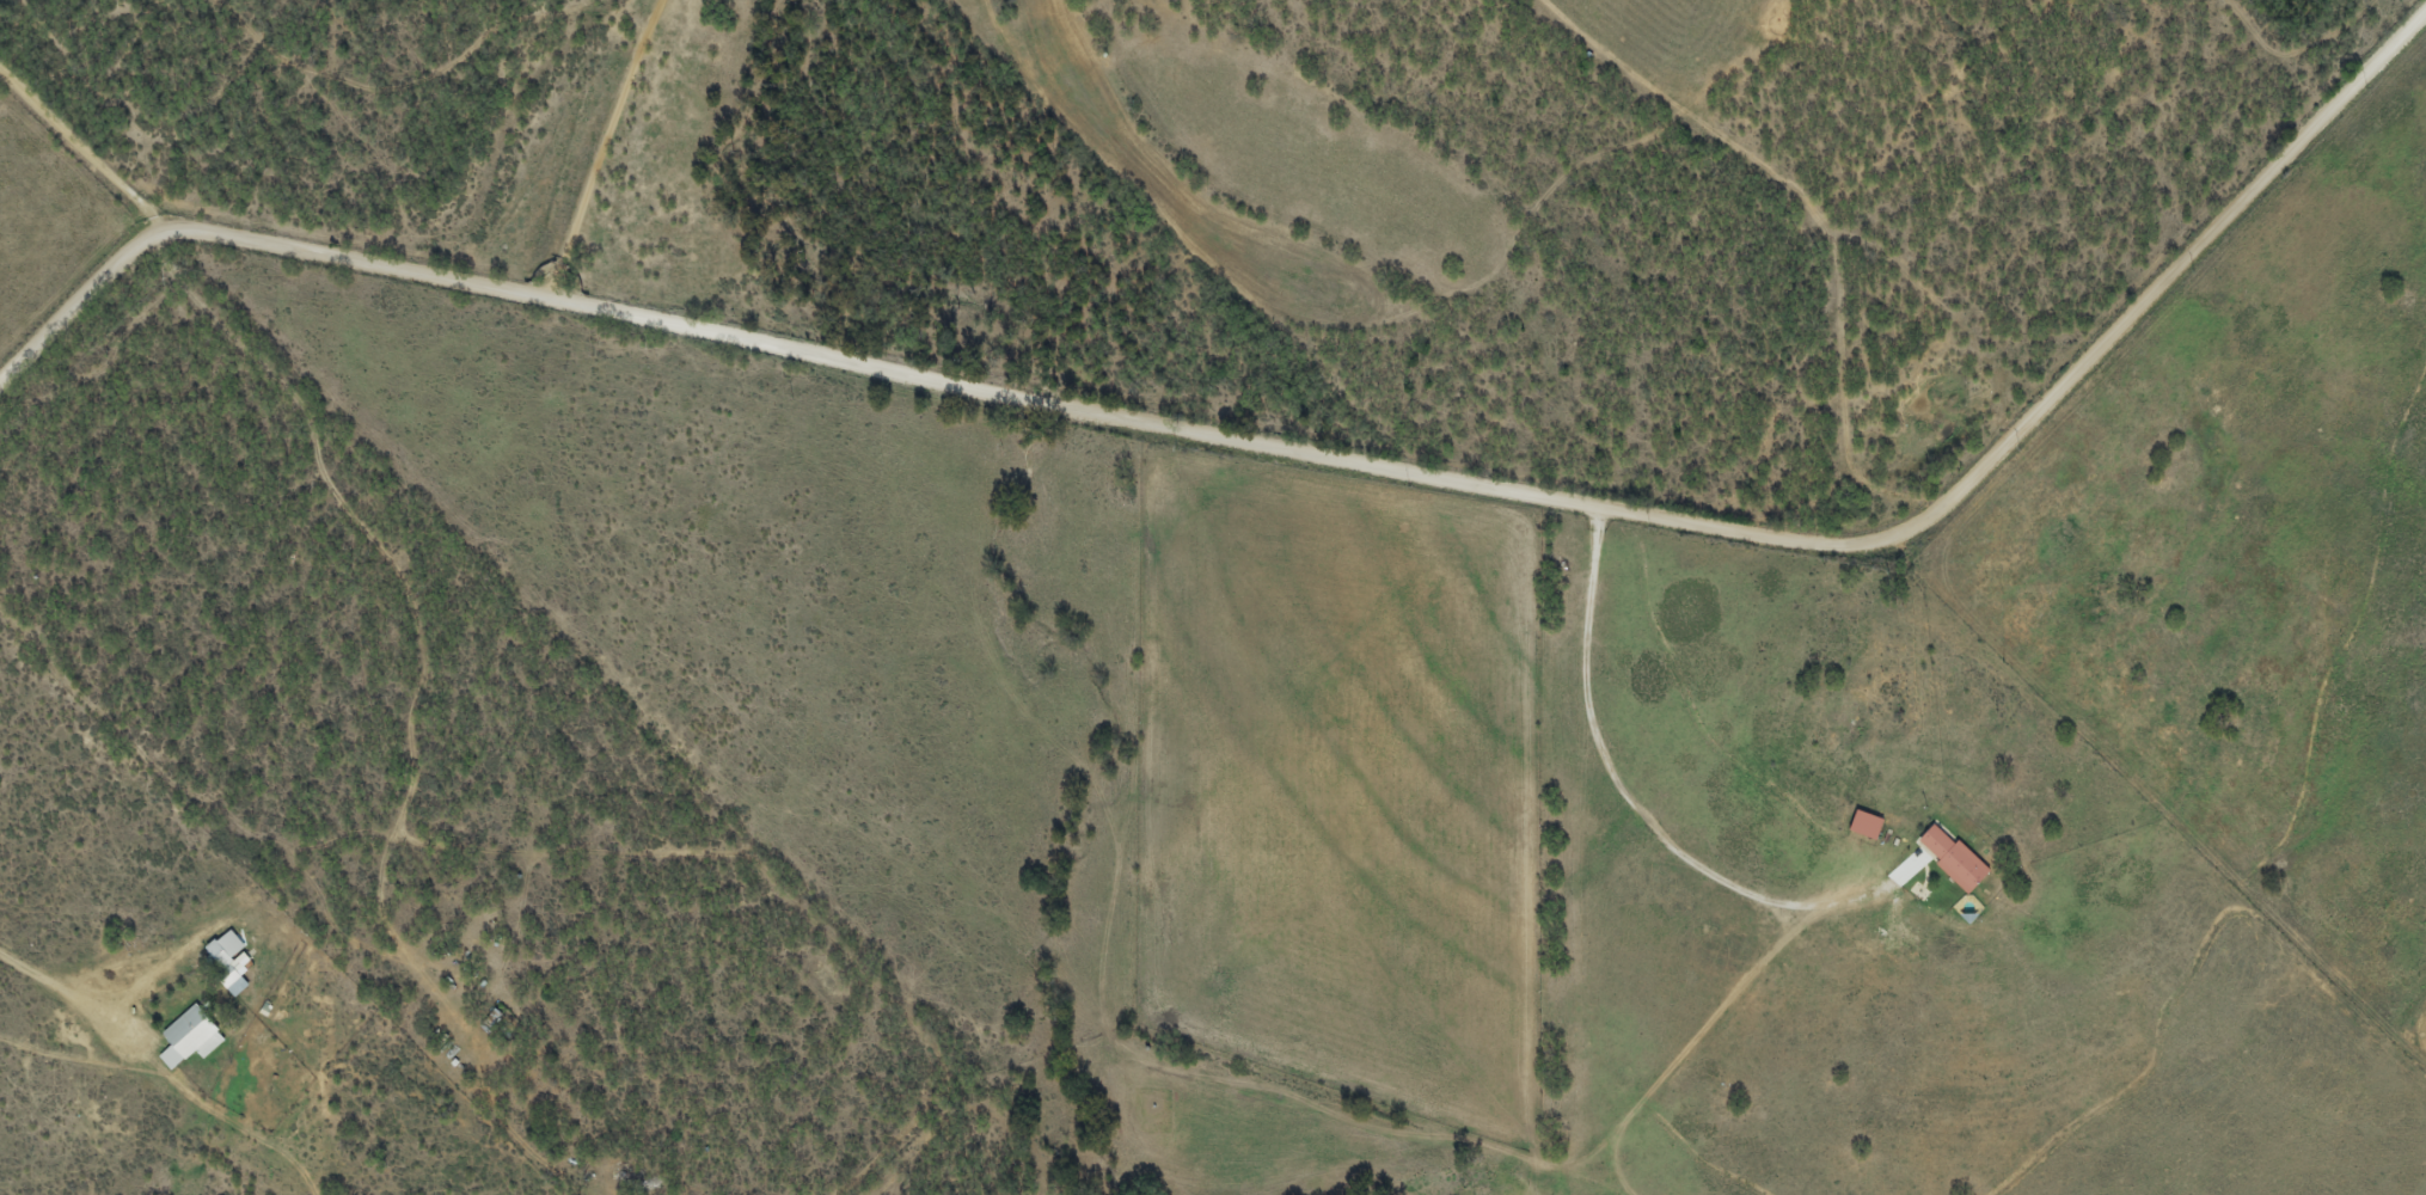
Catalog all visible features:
road: (2298, 50)
road: (416, 80)
road: (598, 151)
road: (78, 155)
road: (1376, 315)
road: (1977, 391)
road: (1286, 451)
building: (1955, 858)
building: (232, 960)
building: (192, 1037)

